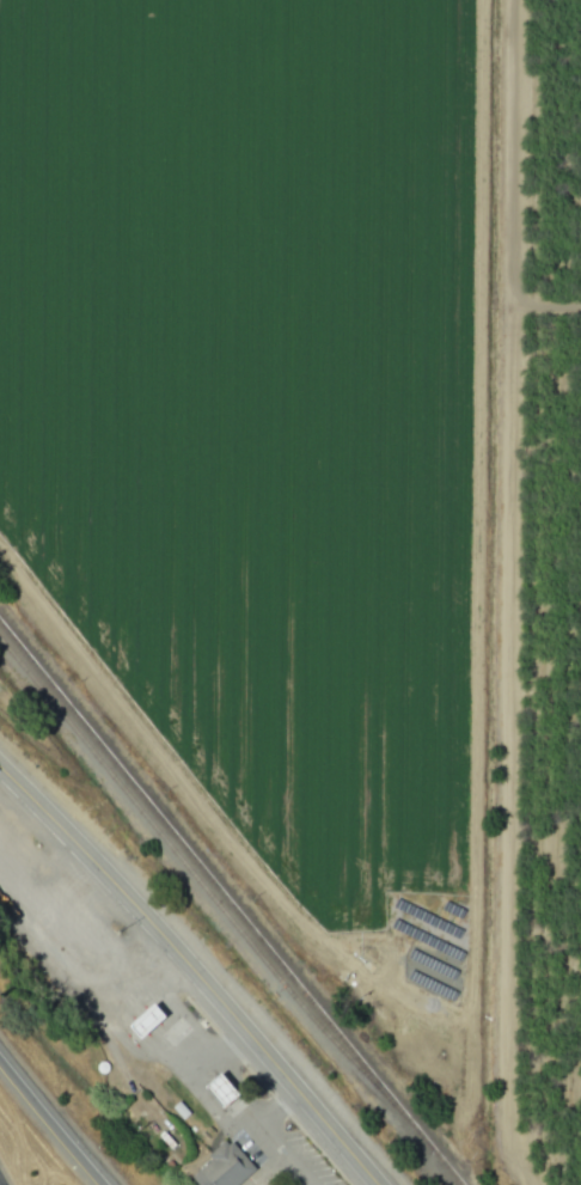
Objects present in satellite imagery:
railway: (231, 908)
road: (189, 973)
road: (175, 1013)
building: (135, 1019)
road: (206, 1104)
road: (54, 1118)
building: (219, 1167)

